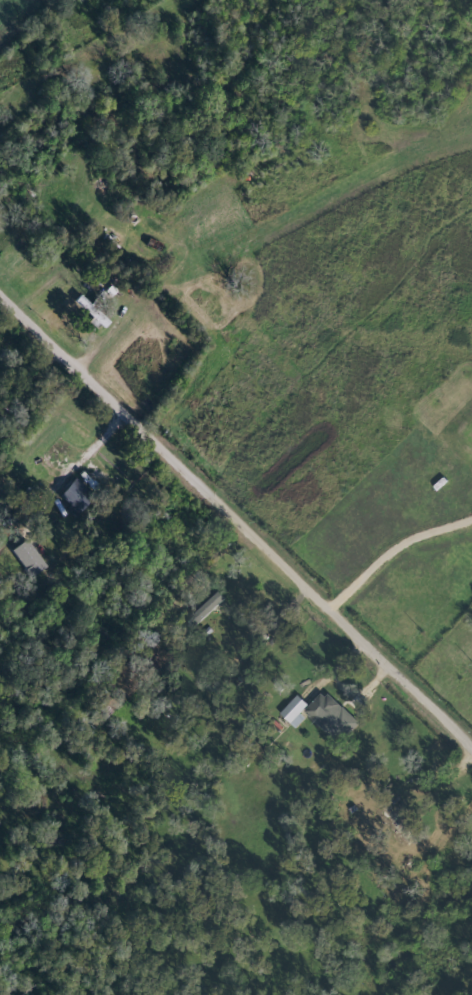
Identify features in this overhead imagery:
building: (97, 275)
building: (87, 310)
building: (70, 493)
road: (236, 520)
building: (25, 556)
building: (205, 605)
building: (316, 713)
road: (436, 783)

